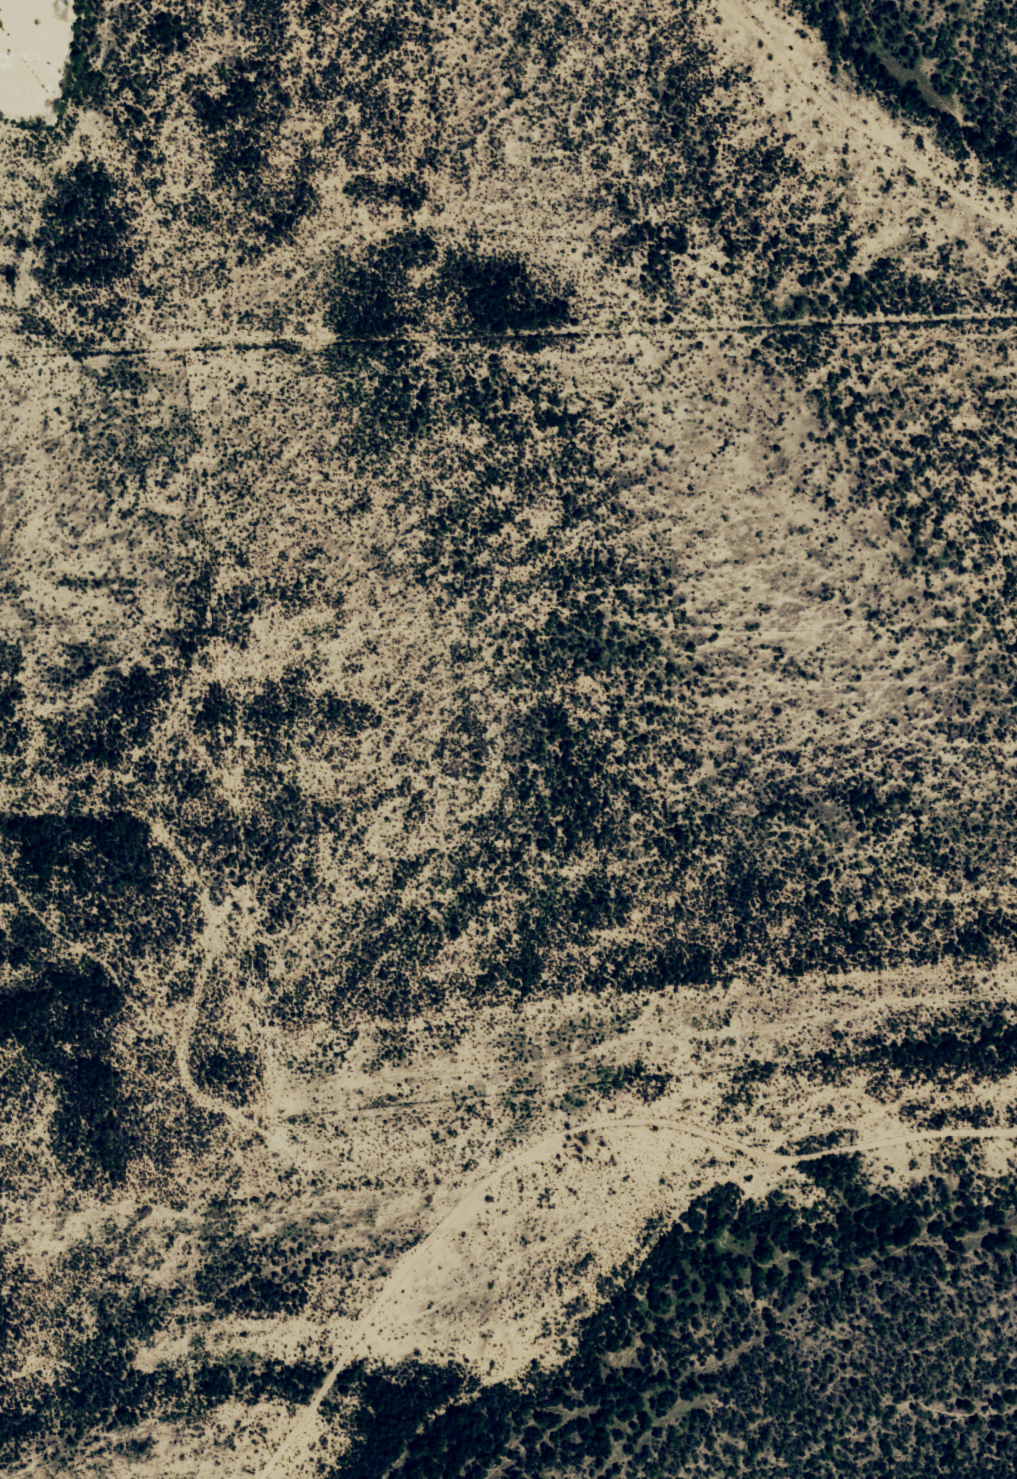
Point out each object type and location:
airport runway: (659, 1024)
road: (676, 1234)

